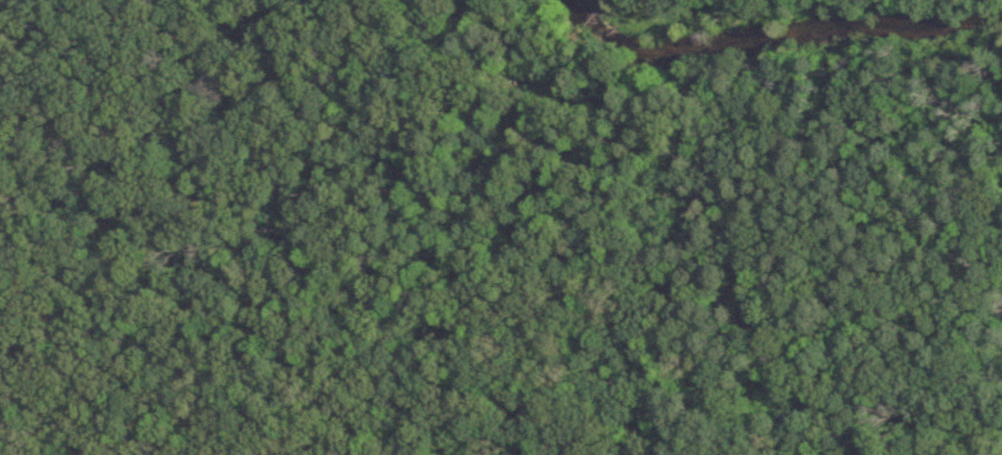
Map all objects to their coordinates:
river: (784, 33)

